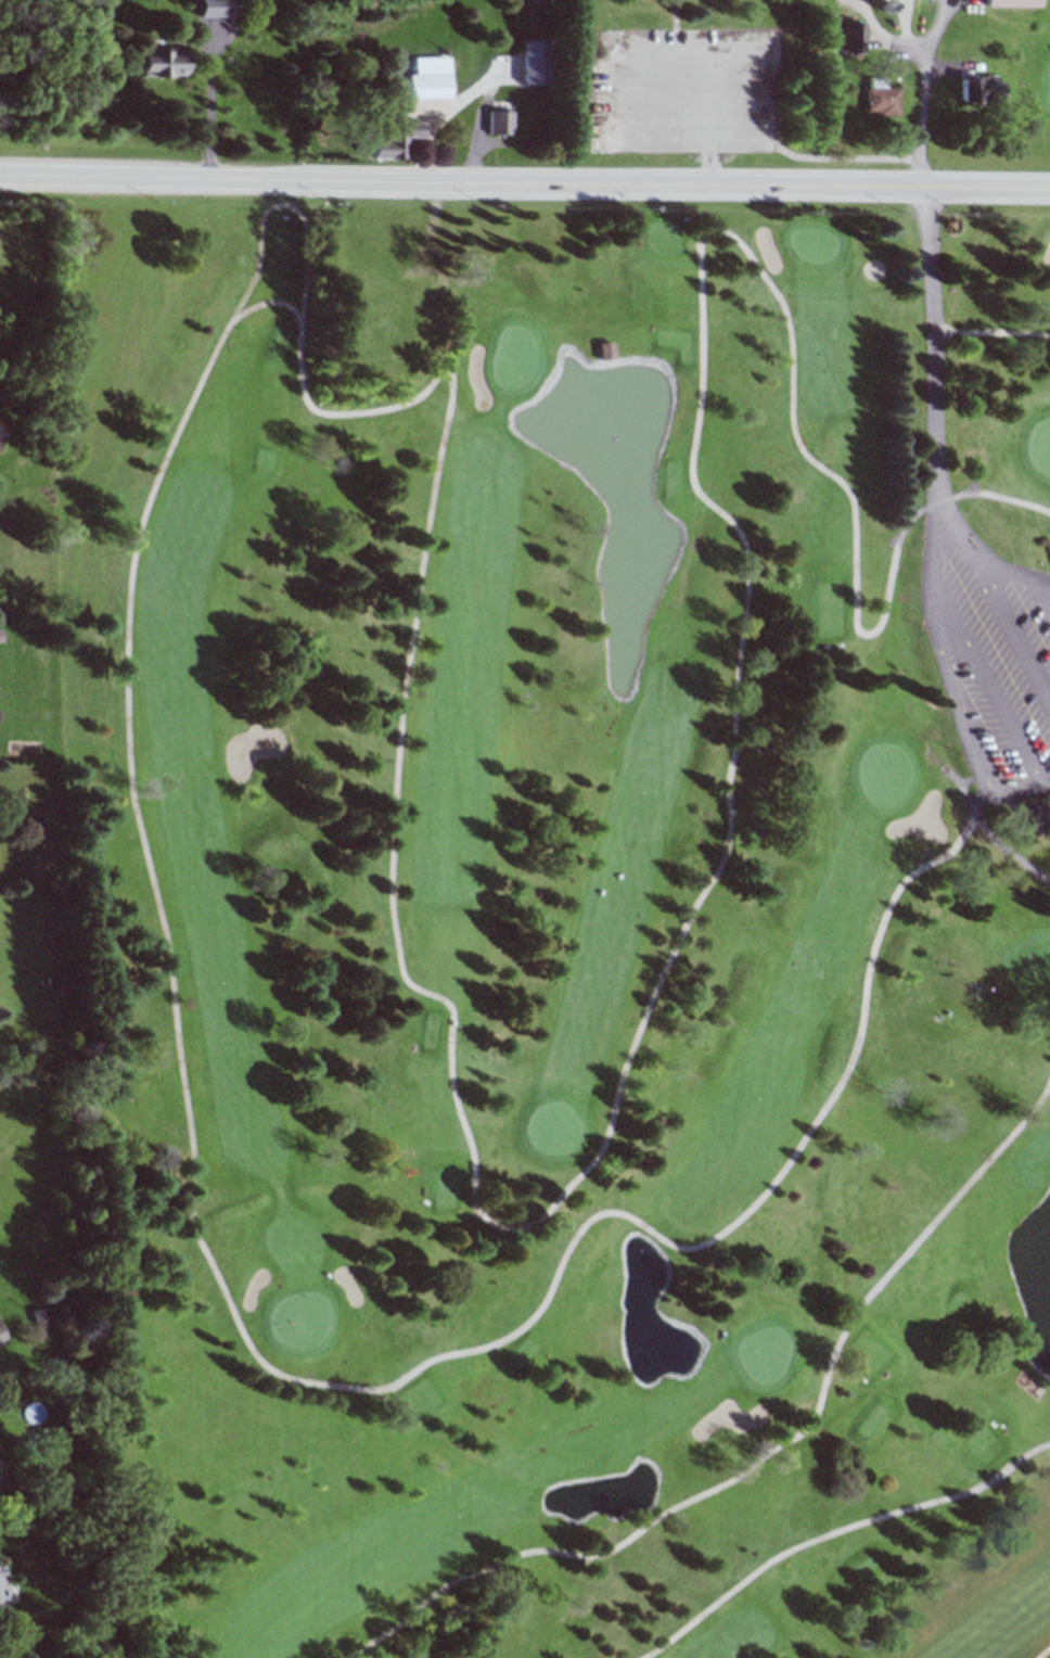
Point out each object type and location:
building: (1014, 2)
building: (218, 8)
building: (855, 35)
building: (165, 62)
building: (430, 77)
park: (807, 87)
building: (979, 88)
parking lot: (670, 92)
building: (882, 98)
road: (212, 101)
building: (500, 123)
building: (395, 139)
road: (524, 182)
road: (282, 203)
road: (996, 331)
building: (607, 349)
road: (935, 373)
road: (437, 487)
road: (990, 560)
road: (1045, 590)
road: (984, 668)
road: (962, 696)
road: (1045, 779)
road: (1011, 849)
park: (565, 927)
building: (2, 1336)
road: (763, 1456)
road: (836, 1530)
building: (4, 1590)
road: (1042, 1651)

